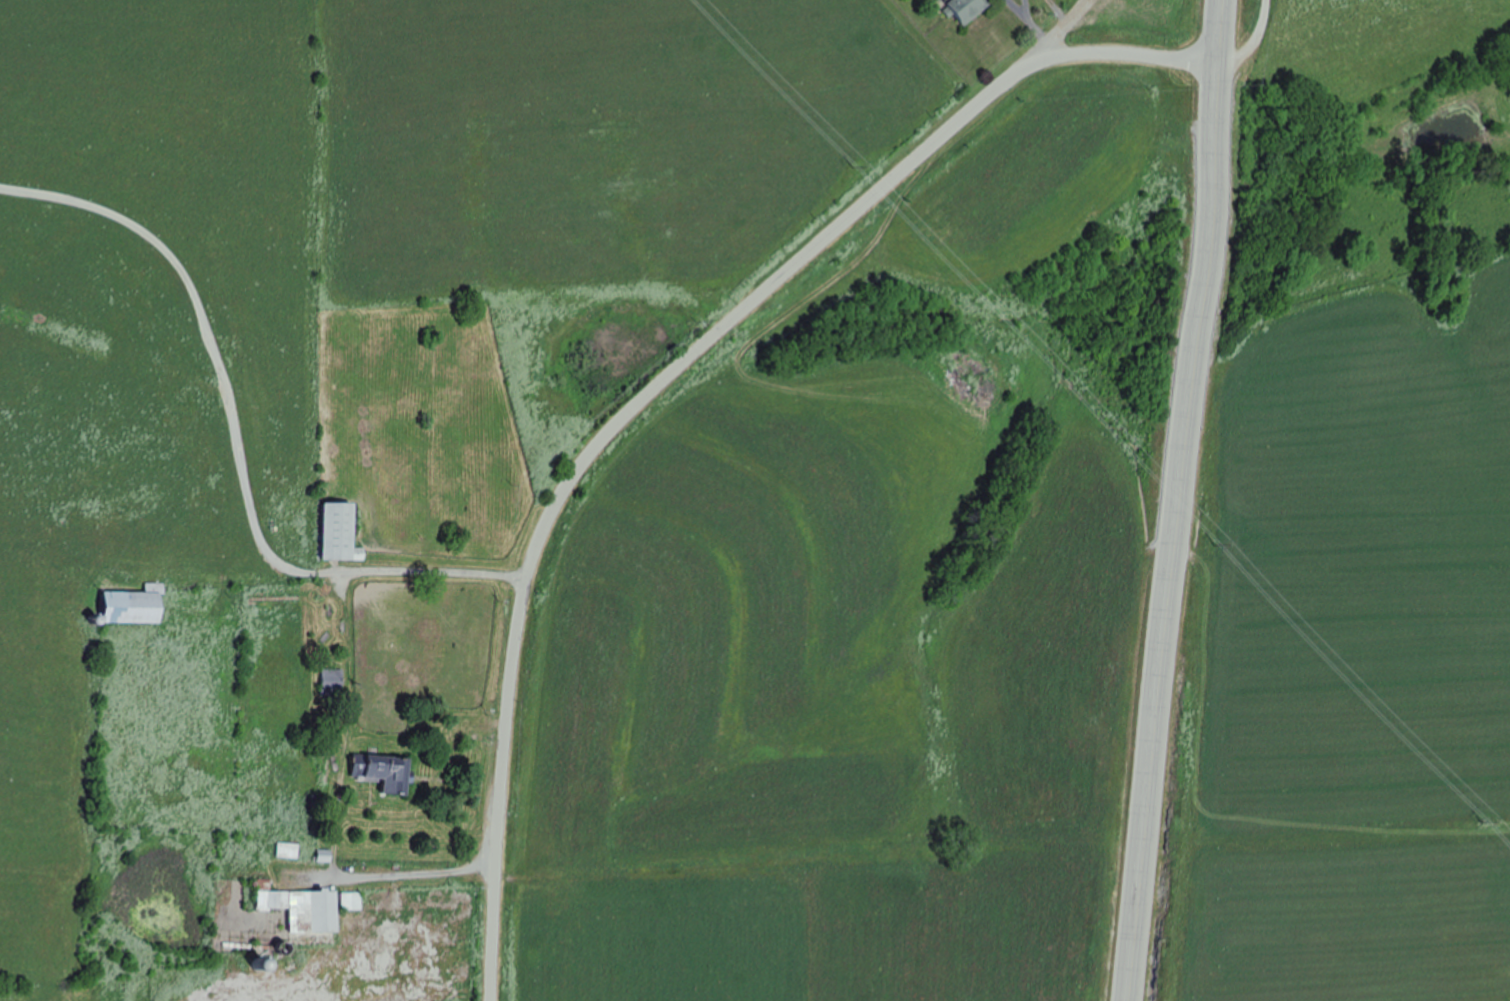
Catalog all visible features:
building: (969, 9)
road: (1065, 26)
road: (1256, 44)
power tower: (870, 165)
road: (664, 379)
road: (261, 415)
road: (1174, 500)
building: (340, 534)
power tower: (1237, 546)
building: (135, 607)
building: (331, 682)
building: (321, 769)
building: (384, 774)
power tower: (1488, 821)

